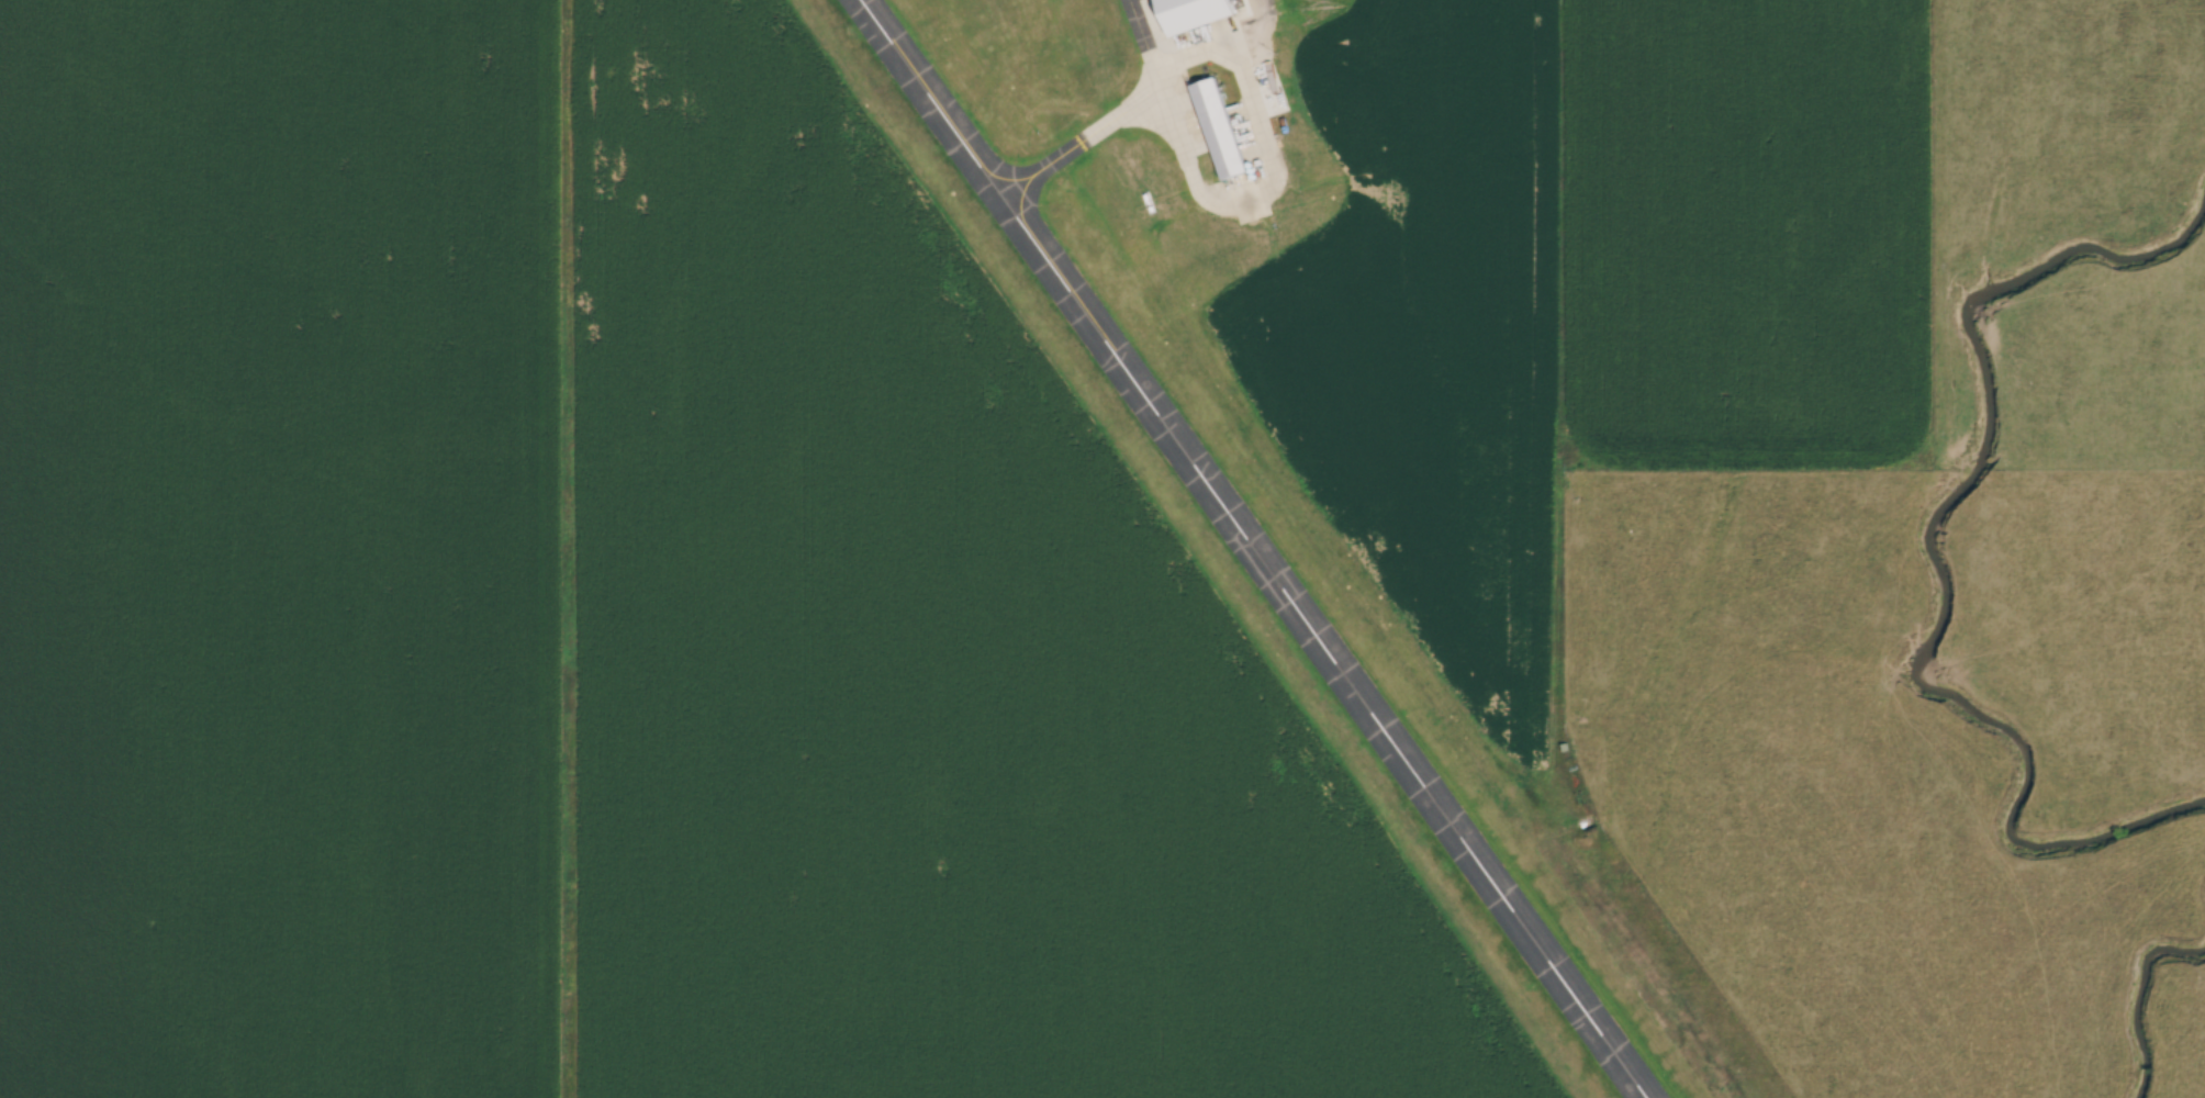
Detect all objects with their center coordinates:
building: (1201, 13)
road: (1254, 32)
airport taxiway: (1143, 34)
building: (1219, 126)
airport taxiway: (1082, 141)
airport taxiway: (1204, 194)
airport: (1253, 473)
airport runway: (1255, 549)
river: (1930, 556)
crop: (917, 671)
river: (2140, 998)

